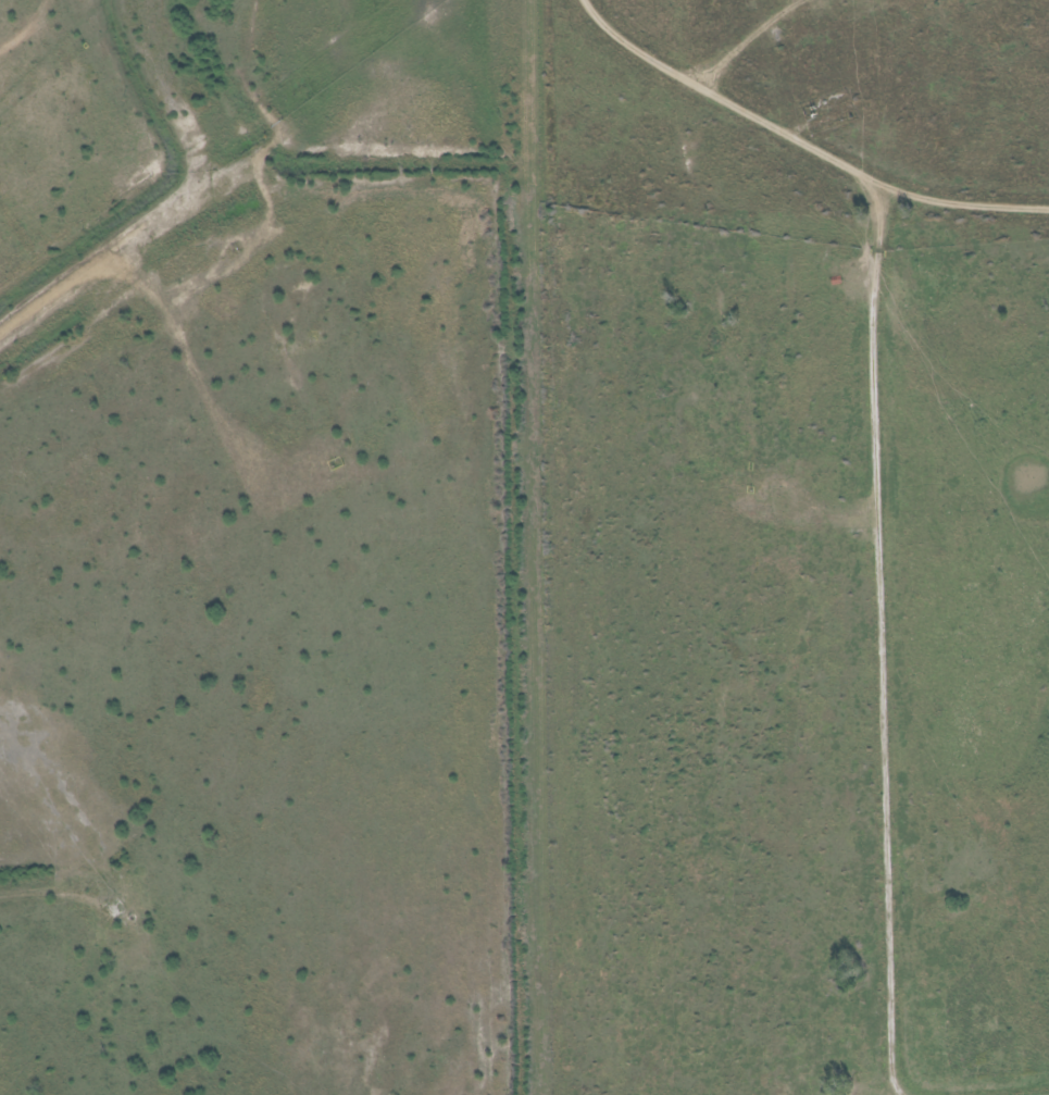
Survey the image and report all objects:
road: (790, 170)
road: (39, 871)

